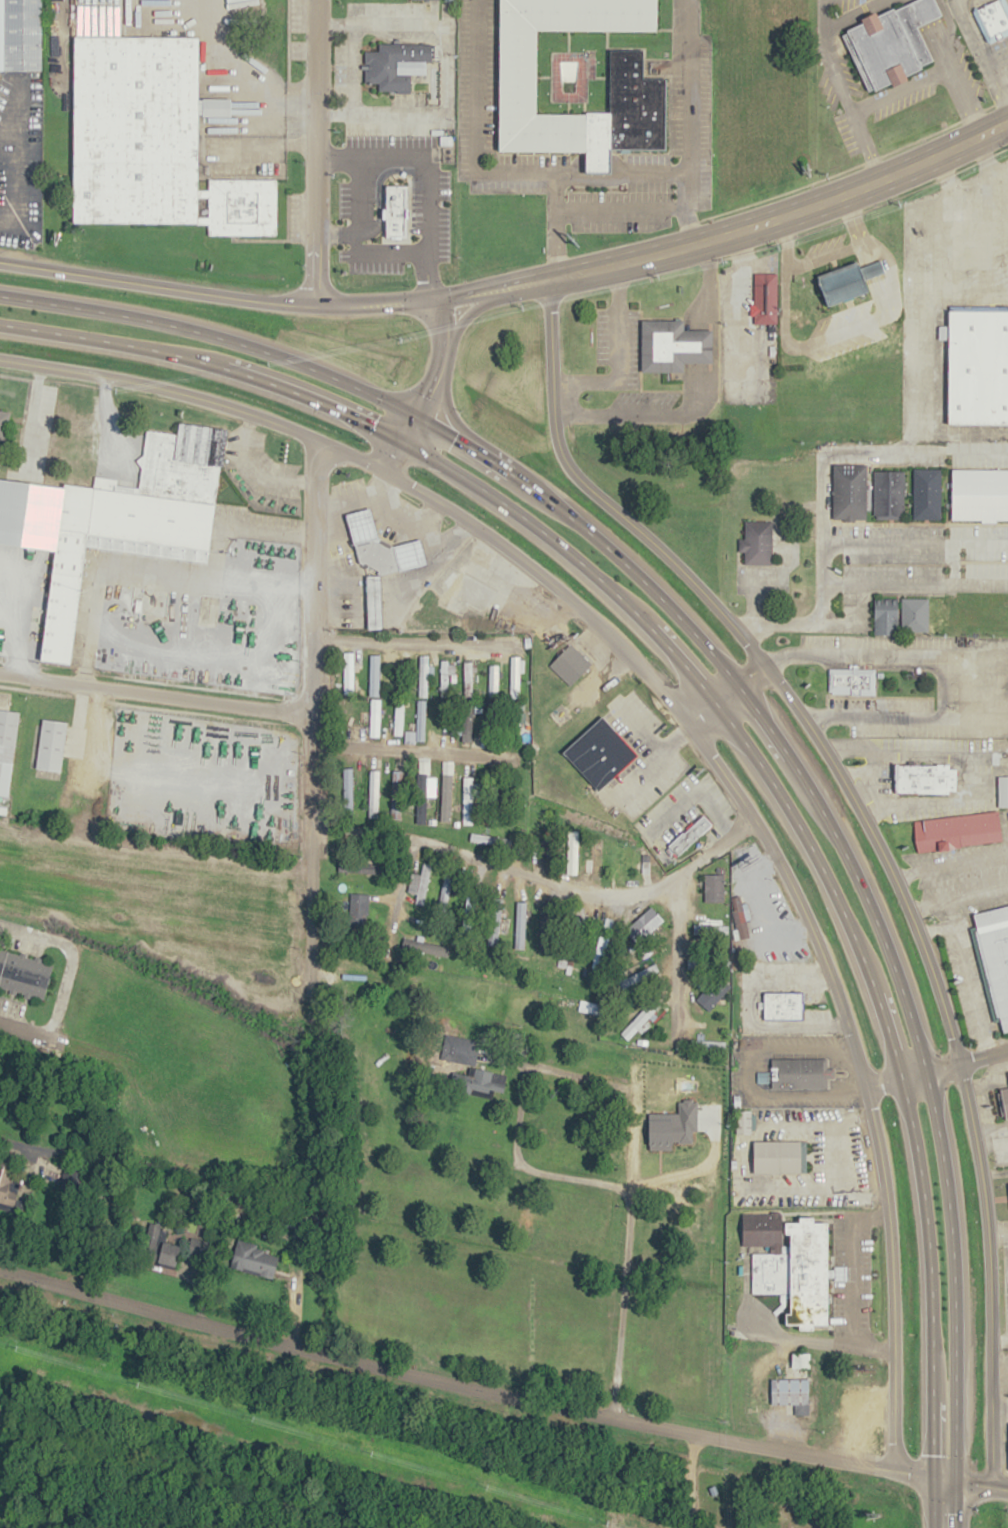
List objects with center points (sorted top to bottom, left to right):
road: (1007, 1)
parking lot: (847, 4)
building: (991, 18)
building: (23, 35)
building: (892, 43)
parking lot: (969, 45)
parking lot: (1001, 49)
road: (983, 52)
building: (393, 64)
road: (948, 65)
parking lot: (844, 66)
parking lot: (970, 69)
road: (688, 85)
road: (840, 89)
parking lot: (826, 90)
road: (900, 90)
building: (638, 95)
parking lot: (901, 102)
parking lot: (845, 133)
building: (152, 141)
road: (314, 151)
road: (855, 165)
road: (495, 171)
road: (419, 176)
road: (684, 207)
building: (396, 211)
road: (929, 213)
road: (554, 225)
road: (732, 230)
building: (850, 281)
road: (219, 294)
building: (765, 298)
road: (479, 306)
road: (417, 310)
building: (673, 346)
building: (978, 366)
road: (438, 373)
road: (398, 394)
traffic signals: (417, 417)
road: (464, 429)
building: (5, 433)
traffic signals: (403, 442)
road: (823, 447)
road: (394, 456)
building: (168, 491)
building: (850, 491)
building: (887, 493)
building: (927, 493)
building: (758, 542)
building: (382, 546)
building: (65, 596)
building: (123, 597)
building: (374, 602)
building: (206, 610)
building: (914, 614)
building: (885, 616)
road: (411, 635)
road: (307, 636)
building: (573, 659)
building: (346, 661)
building: (373, 674)
building: (397, 674)
building: (422, 675)
building: (514, 676)
building: (443, 677)
building: (467, 679)
building: (493, 680)
building: (852, 680)
building: (345, 683)
road: (152, 692)
road: (726, 696)
road: (748, 698)
building: (420, 714)
building: (347, 715)
building: (375, 717)
road: (727, 719)
building: (442, 720)
road: (684, 720)
building: (400, 722)
building: (465, 725)
building: (50, 743)
building: (7, 747)
building: (601, 752)
road: (400, 754)
building: (927, 777)
building: (1003, 790)
building: (421, 791)
building: (347, 792)
building: (372, 793)
building: (395, 793)
building: (445, 799)
building: (467, 799)
building: (957, 830)
road: (872, 832)
building: (689, 834)
building: (551, 848)
building: (596, 863)
building: (624, 864)
building: (358, 867)
building: (422, 882)
road: (539, 884)
building: (713, 887)
building: (444, 892)
road: (304, 907)
building: (358, 909)
building: (740, 916)
building: (520, 924)
building: (545, 925)
building: (707, 927)
building: (423, 929)
building: (996, 952)
road: (677, 959)
building: (597, 961)
building: (348, 963)
building: (24, 975)
road: (61, 975)
building: (713, 992)
building: (783, 1004)
road: (416, 1023)
building: (710, 1045)
building: (471, 1061)
road: (954, 1062)
building: (641, 1070)
building: (799, 1072)
road: (882, 1079)
building: (668, 1090)
building: (1003, 1102)
building: (743, 1121)
building: (779, 1156)
building: (8, 1172)
road: (623, 1206)
building: (151, 1239)
building: (171, 1254)
building: (255, 1259)
building: (792, 1262)
parking lot: (1005, 1283)
building: (833, 1387)
road: (500, 1391)
building: (791, 1393)
building: (856, 1412)
building: (854, 1433)
traffic signals: (934, 1476)
traffic signals: (954, 1479)
road: (691, 1480)

